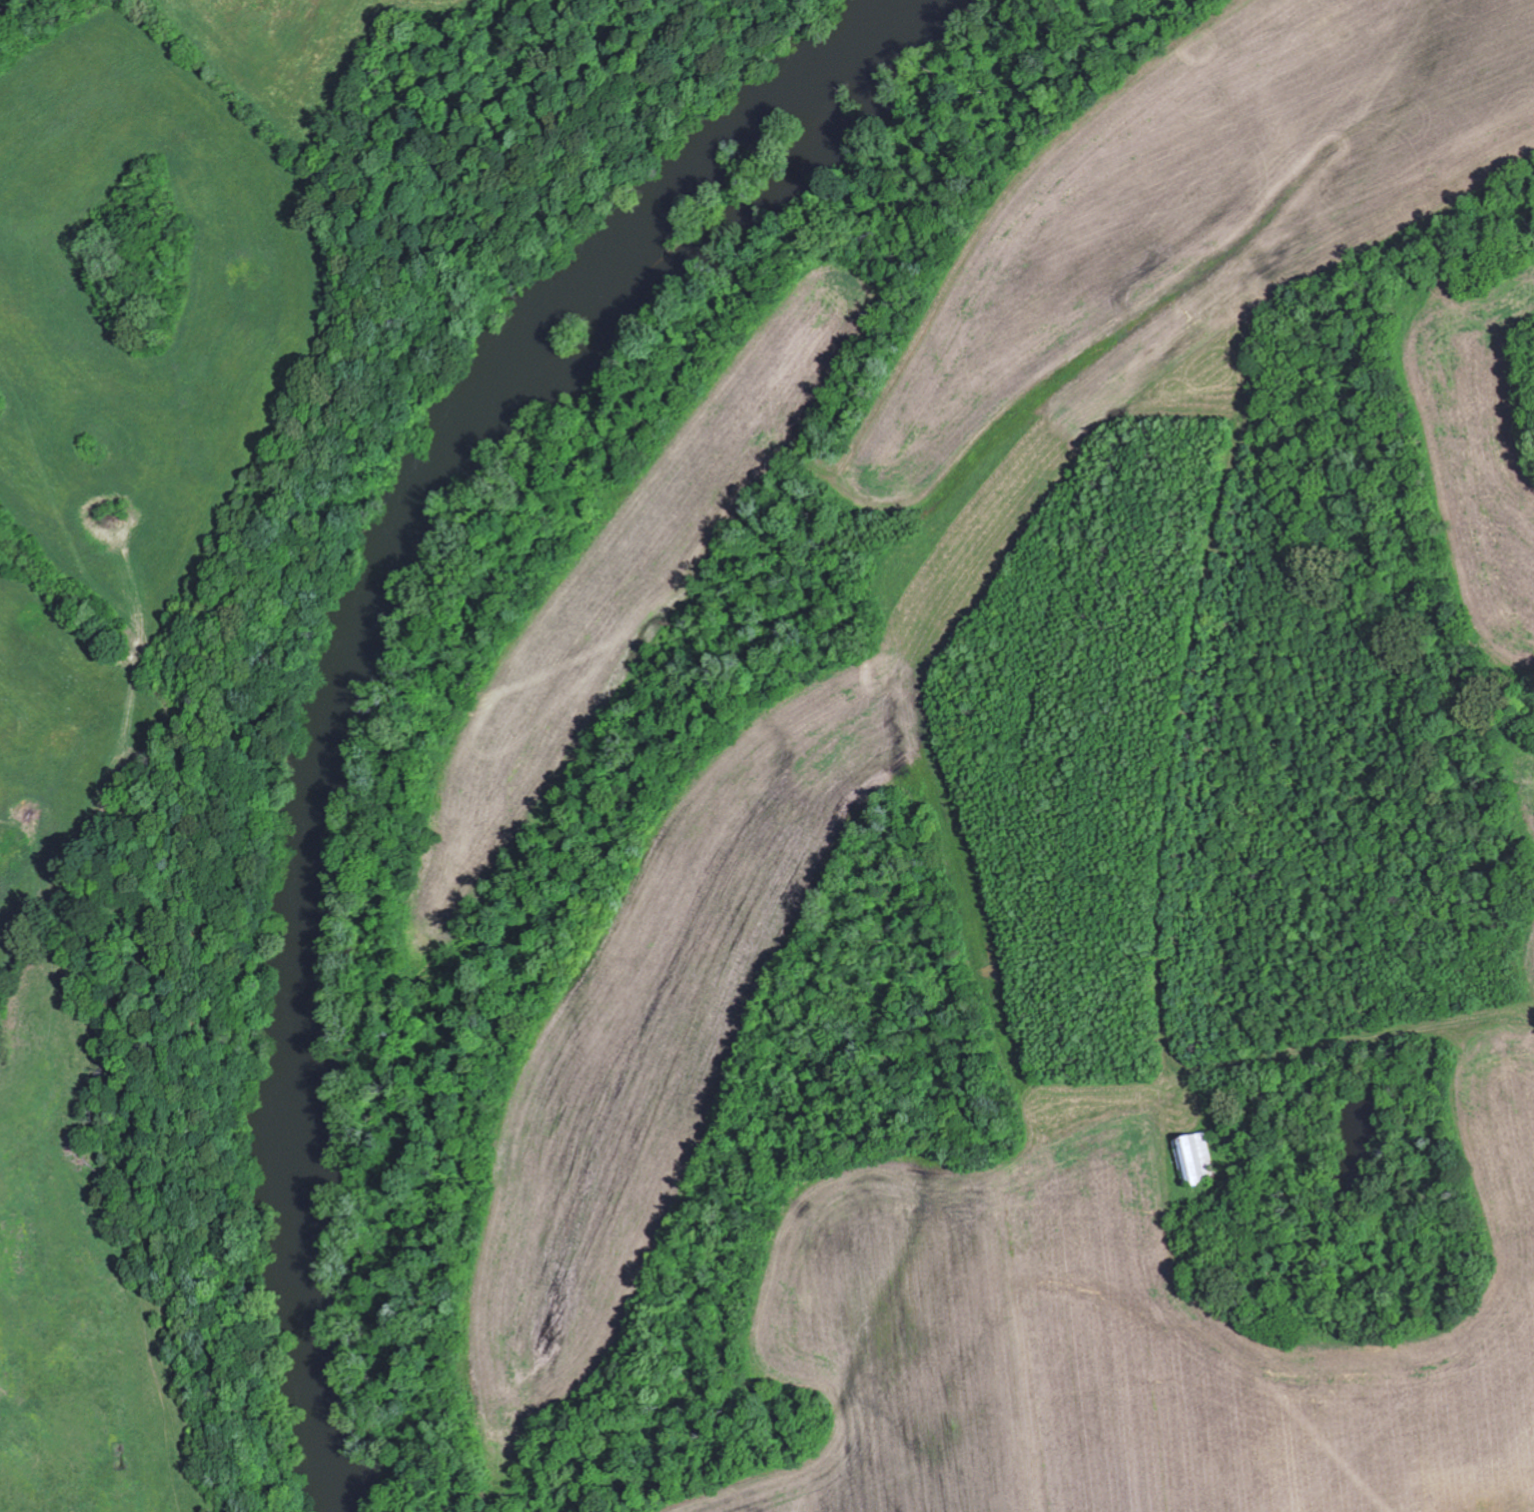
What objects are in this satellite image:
river: (359, 667)
road: (1372, 1039)
building: (1191, 1159)

